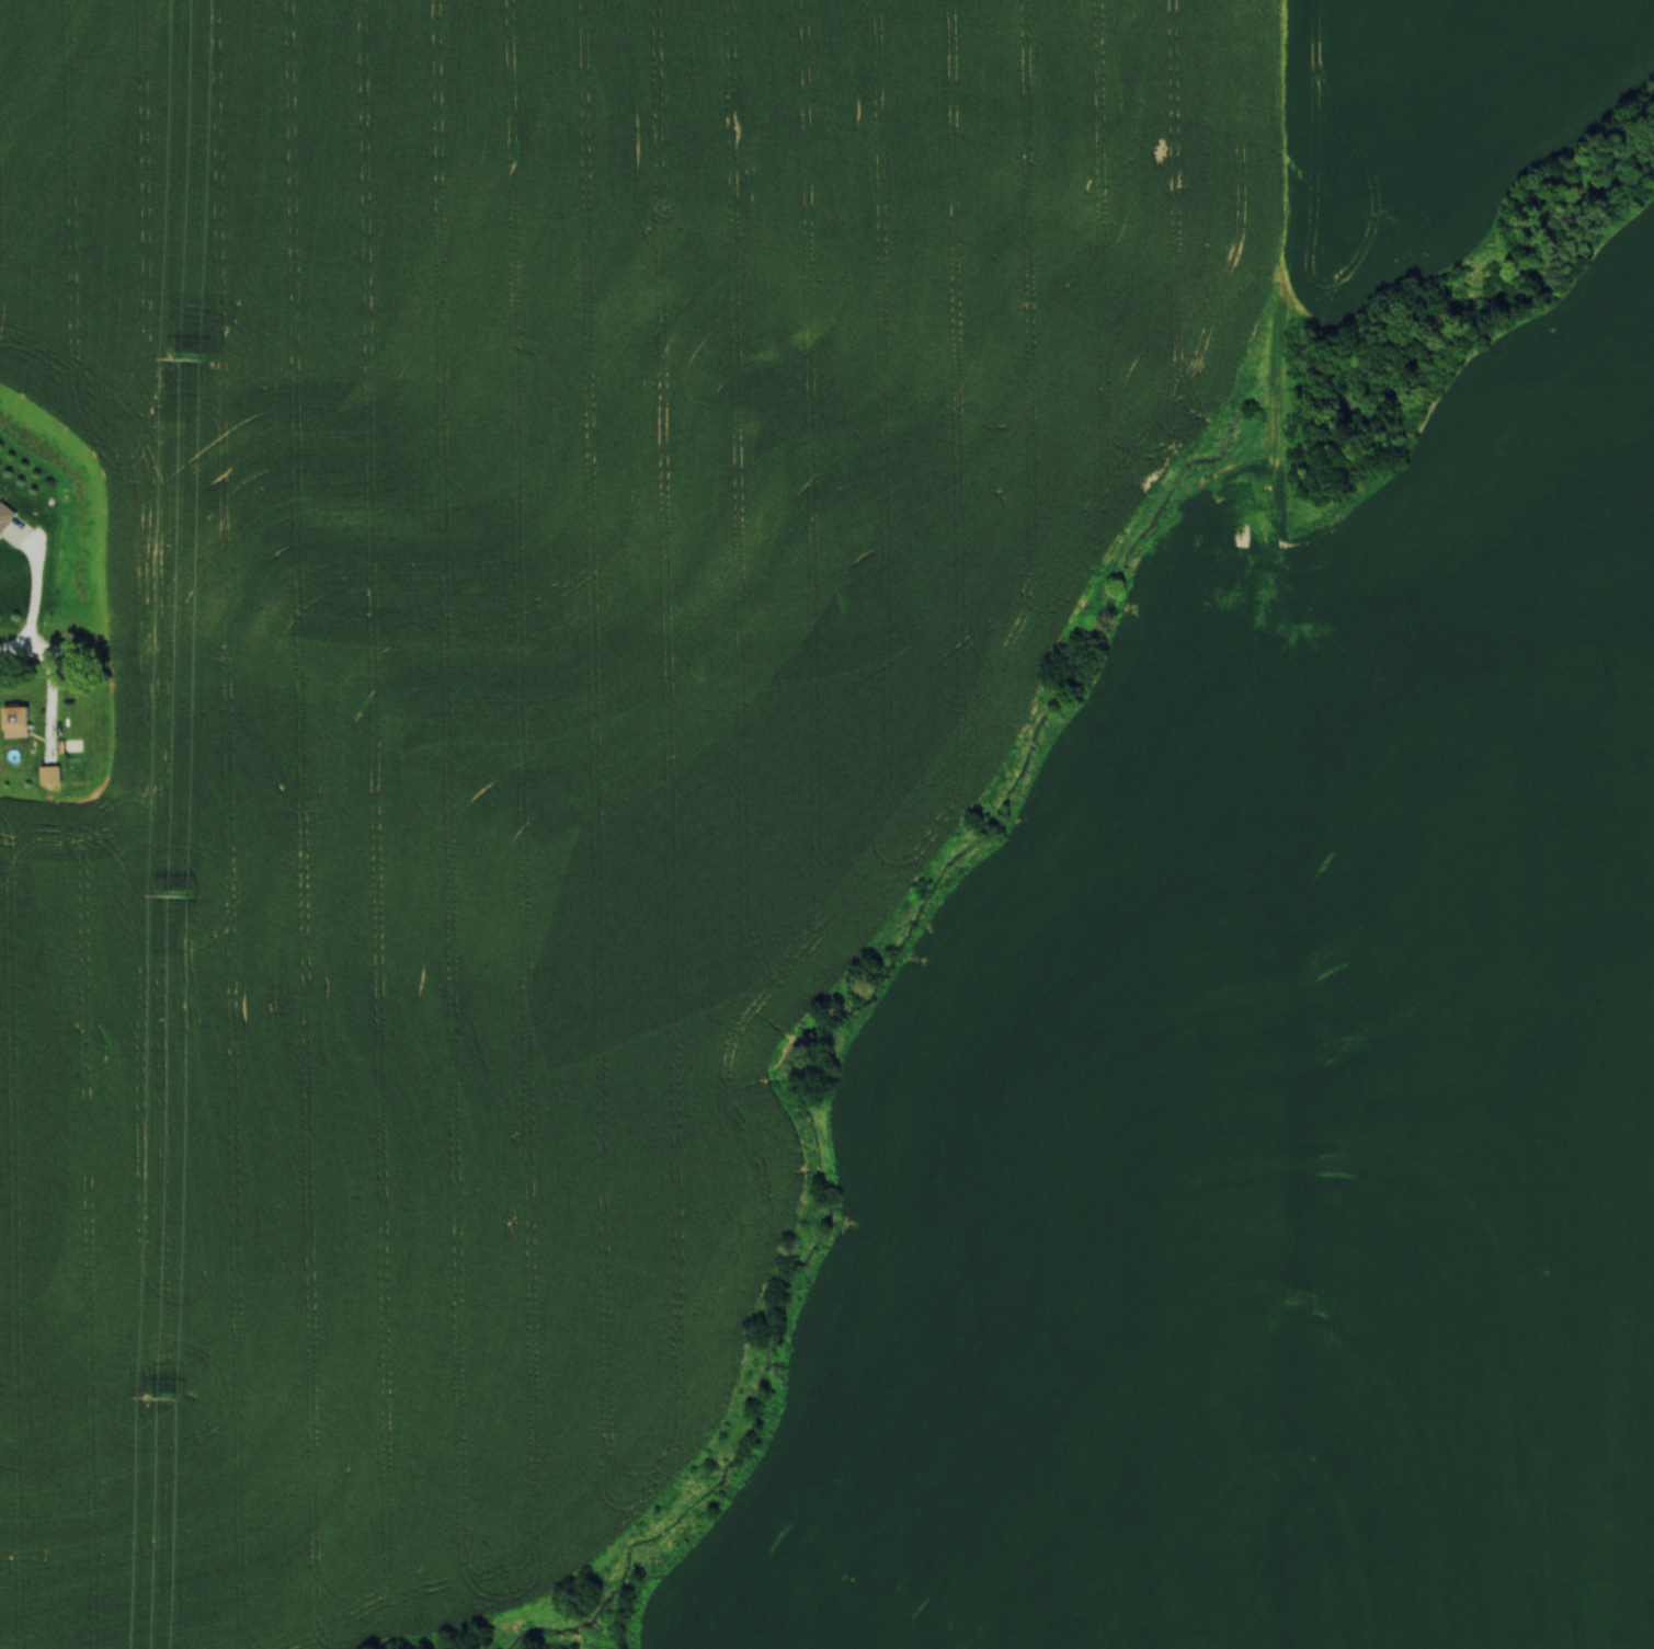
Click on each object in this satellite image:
power tower: (191, 357)
building: (5, 516)
road: (33, 588)
road: (55, 656)
road: (109, 696)
building: (18, 722)
building: (115, 761)
power tower: (178, 895)
power tower: (164, 1396)

